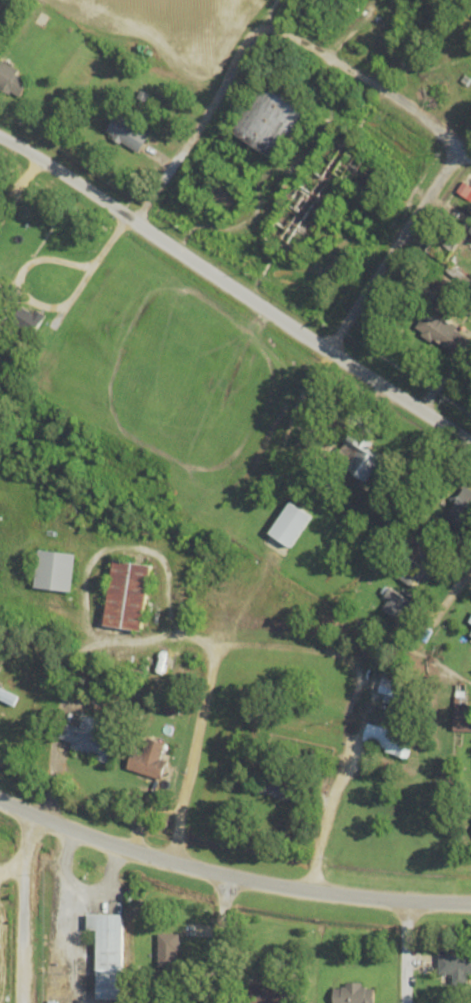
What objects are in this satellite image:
building: (12, 81)
road: (368, 87)
road: (208, 111)
building: (272, 121)
building: (128, 133)
building: (470, 231)
road: (399, 236)
road: (113, 243)
road: (235, 285)
road: (45, 307)
building: (30, 322)
building: (443, 333)
building: (358, 457)
building: (462, 509)
building: (56, 570)
building: (410, 572)
building: (128, 594)
building: (395, 601)
road: (427, 633)
road: (240, 641)
building: (462, 717)
building: (93, 738)
building: (387, 738)
road: (189, 750)
building: (148, 760)
building: (279, 786)
road: (333, 787)
road: (230, 876)
road: (19, 909)
road: (220, 939)
building: (168, 950)
road: (404, 951)
building: (108, 953)
building: (454, 965)
building: (270, 993)
building: (352, 993)

